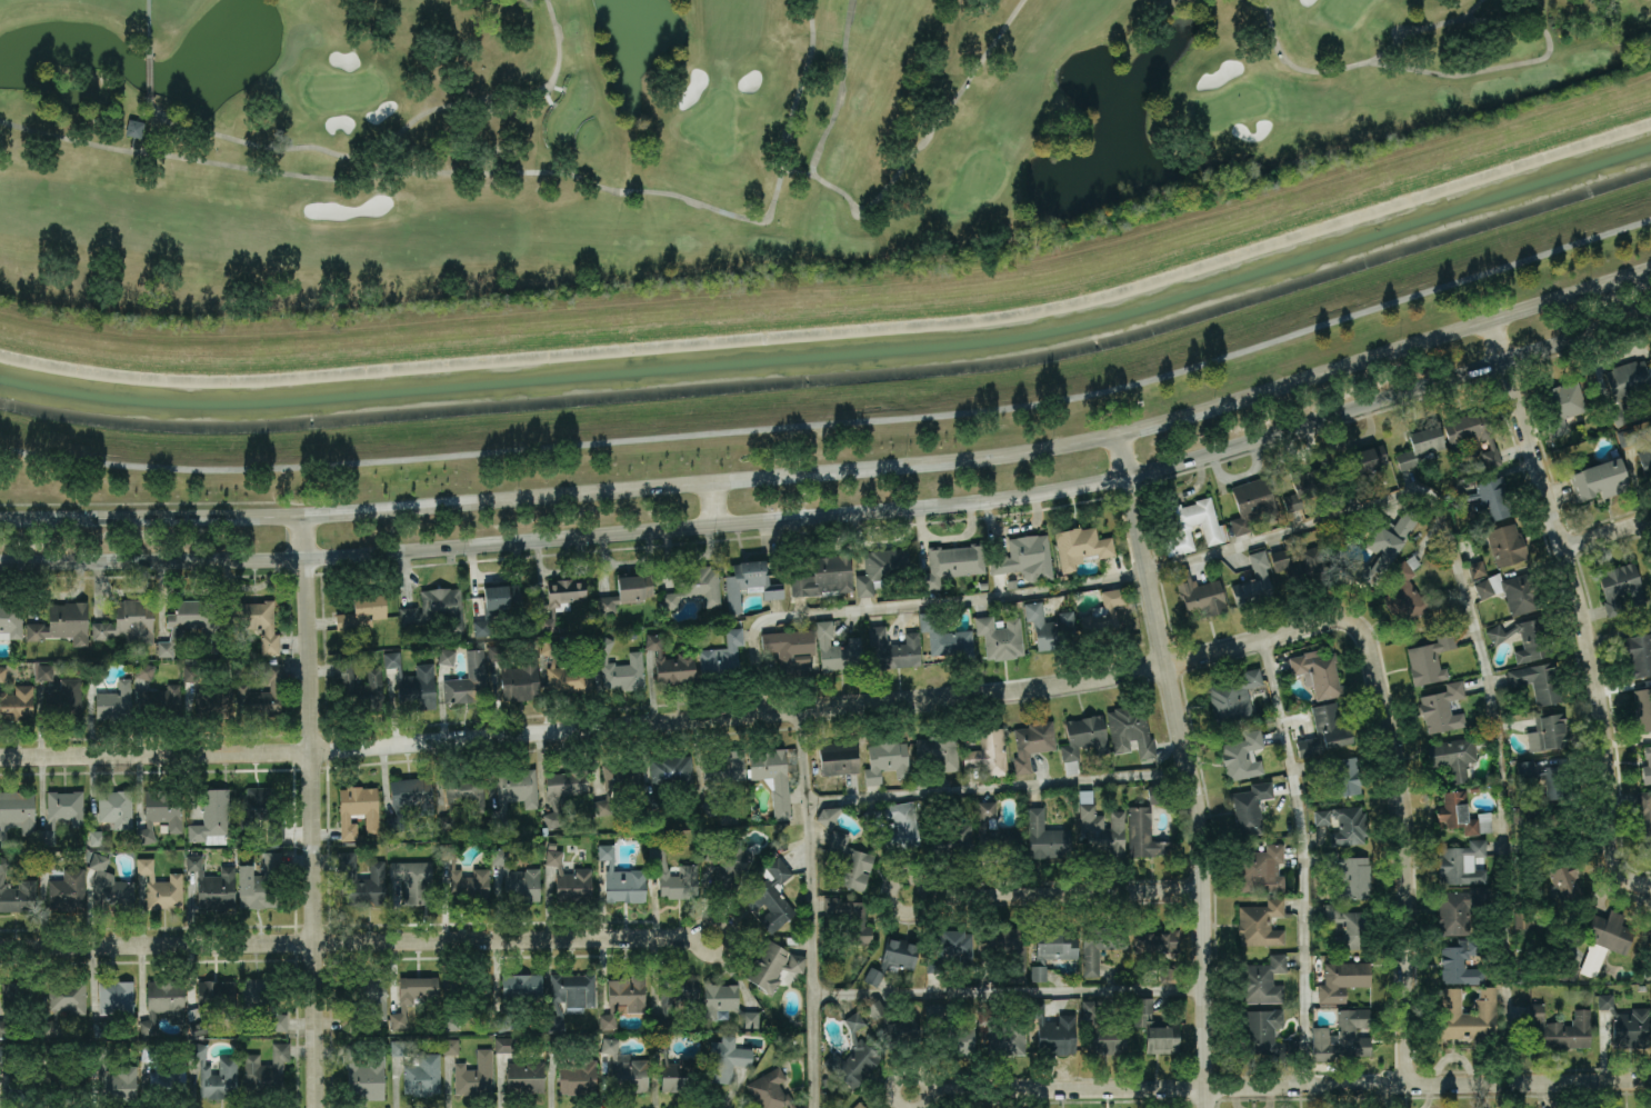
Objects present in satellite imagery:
building: (136, 128)
park: (699, 138)
park: (802, 338)
river: (838, 363)
building: (1627, 387)
building: (1561, 403)
road: (838, 422)
building: (1473, 426)
building: (1627, 437)
building: (1420, 443)
building: (1490, 456)
building: (1645, 463)
building: (1361, 465)
road: (838, 470)
building: (1597, 479)
building: (1307, 491)
building: (1485, 497)
road: (711, 502)
building: (1252, 503)
road: (838, 512)
road: (1341, 513)
building: (1189, 523)
road: (1607, 535)
building: (1507, 542)
building: (1380, 543)
building: (1079, 546)
building: (1024, 557)
building: (951, 561)
building: (1300, 566)
building: (882, 567)
building: (1475, 568)
building: (823, 575)
building: (1252, 580)
building: (748, 581)
building: (1011, 582)
building: (981, 585)
building: (696, 587)
building: (1620, 587)
building: (1408, 588)
building: (1509, 590)
building: (1199, 591)
building: (624, 592)
building: (500, 593)
building: (561, 599)
road: (1578, 608)
building: (437, 610)
building: (362, 611)
building: (11, 620)
building: (128, 621)
building: (257, 621)
building: (1102, 621)
building: (62, 622)
building: (189, 622)
building: (481, 627)
building: (1050, 627)
building: (561, 628)
building: (999, 636)
building: (944, 637)
building: (1527, 637)
building: (893, 647)
building: (837, 648)
building: (790, 649)
building: (1639, 653)
building: (446, 656)
building: (720, 657)
building: (1429, 658)
building: (670, 662)
building: (620, 667)
building: (1317, 670)
building: (143, 671)
building: (2, 672)
building: (96, 672)
building: (190, 672)
building: (564, 675)
building: (517, 677)
building: (1538, 679)
building: (468, 680)
building: (412, 682)
building: (359, 687)
building: (59, 688)
building: (260, 696)
building: (1233, 696)
building: (114, 701)
building: (162, 701)
building: (17, 702)
building: (213, 702)
building: (1442, 707)
building: (1642, 707)
road: (714, 717)
building: (1130, 728)
building: (1324, 729)
building: (1549, 730)
building: (1082, 738)
building: (1031, 742)
building: (988, 752)
building: (1242, 755)
building: (1454, 755)
building: (932, 756)
building: (837, 757)
building: (887, 759)
building: (1647, 763)
road: (1191, 767)
building: (1335, 772)
building: (773, 775)
building: (669, 777)
building: (720, 777)
building: (1551, 777)
building: (617, 781)
building: (1474, 787)
road: (999, 789)
building: (513, 791)
building: (562, 792)
building: (462, 795)
building: (410, 798)
building: (358, 807)
building: (1249, 807)
building: (260, 809)
building: (16, 811)
building: (61, 811)
road: (312, 811)
building: (160, 812)
building: (111, 813)
building: (1462, 813)
building: (828, 815)
building: (1644, 815)
building: (212, 817)
building: (728, 817)
building: (1145, 822)
building: (1343, 823)
building: (893, 825)
building: (1552, 826)
building: (1100, 827)
building: (952, 832)
building: (994, 832)
building: (1044, 836)
building: (551, 845)
building: (46, 860)
road: (1300, 860)
building: (847, 861)
building: (1463, 861)
building: (727, 862)
building: (1260, 868)
building: (688, 871)
building: (1349, 874)
building: (570, 879)
building: (622, 879)
road: (1407, 879)
building: (259, 880)
building: (362, 880)
building: (413, 880)
building: (466, 880)
building: (517, 880)
building: (109, 882)
building: (1567, 882)
building: (212, 884)
building: (160, 887)
building: (67, 890)
building: (16, 891)
building: (770, 892)
road: (1064, 892)
road: (922, 895)
building: (1455, 907)
road: (812, 908)
building: (849, 917)
building: (1522, 919)
building: (1260, 921)
building: (1342, 924)
road: (346, 939)
road: (692, 941)
building: (1158, 941)
building: (1600, 944)
building: (1645, 945)
building: (1099, 946)
building: (949, 948)
building: (1051, 950)
building: (891, 958)
building: (1019, 958)
building: (1459, 960)
building: (772, 965)
building: (1169, 972)
building: (1261, 979)
building: (1341, 979)
building: (468, 986)
building: (1642, 987)
road: (1010, 991)
building: (364, 992)
building: (518, 994)
building: (569, 995)
building: (263, 997)
building: (624, 997)
building: (672, 998)
building: (117, 999)
building: (430, 999)
building: (16, 1001)
building: (212, 1001)
building: (162, 1002)
building: (726, 1002)
building: (63, 1004)
building: (1467, 1016)
building: (349, 1019)
building: (451, 1021)
building: (1627, 1024)
building: (10, 1027)
building: (100, 1028)
building: (1157, 1028)
building: (1560, 1028)
building: (899, 1029)
building: (1258, 1029)
building: (951, 1031)
building: (1053, 1031)
building: (1001, 1034)
building: (1102, 1034)
building: (1342, 1035)
building: (450, 1046)
building: (852, 1057)
building: (726, 1058)
building: (626, 1068)
building: (227, 1069)
building: (418, 1069)
building: (520, 1069)
building: (676, 1070)
building: (264, 1071)
building: (363, 1071)
building: (573, 1071)
building: (474, 1074)
building: (164, 1075)
building: (17, 1077)
building: (61, 1078)
building: (114, 1078)
building: (825, 1082)
road: (1289, 1085)
building: (771, 1090)
road: (927, 1090)
building: (859, 1105)

